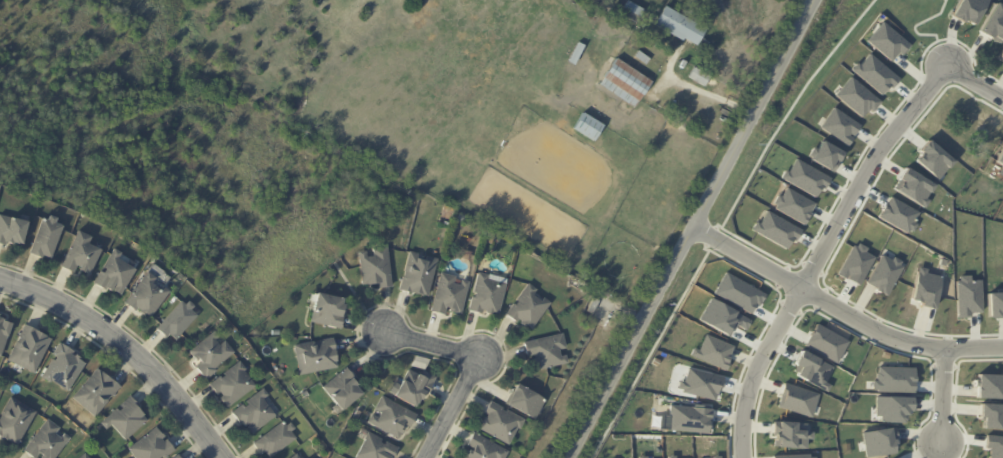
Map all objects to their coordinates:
building: (966, 10)
building: (633, 12)
road: (918, 23)
building: (992, 23)
building: (681, 29)
building: (886, 42)
building: (705, 46)
building: (577, 54)
building: (1000, 55)
building: (644, 58)
building: (874, 74)
building: (700, 78)
road: (974, 81)
building: (625, 84)
road: (711, 95)
building: (855, 97)
road: (787, 112)
building: (838, 126)
building: (589, 127)
building: (824, 155)
building: (931, 160)
building: (1000, 162)
building: (804, 177)
building: (911, 187)
building: (792, 205)
building: (897, 215)
building: (462, 219)
road: (691, 229)
building: (774, 229)
building: (14, 230)
building: (48, 238)
building: (491, 239)
road: (821, 252)
building: (84, 255)
building: (854, 264)
building: (378, 269)
building: (421, 274)
building: (882, 274)
building: (117, 275)
building: (925, 288)
building: (738, 293)
building: (150, 296)
building: (451, 296)
building: (490, 296)
building: (968, 296)
building: (995, 305)
building: (593, 306)
building: (530, 309)
road: (840, 312)
building: (328, 313)
building: (0, 316)
building: (722, 318)
building: (179, 322)
building: (4, 334)
building: (825, 343)
road: (434, 348)
road: (125, 349)
road: (651, 349)
building: (31, 350)
building: (711, 352)
building: (547, 353)
building: (211, 356)
building: (318, 357)
building: (427, 364)
building: (65, 369)
building: (810, 370)
building: (892, 379)
building: (699, 383)
building: (235, 385)
building: (987, 386)
building: (415, 387)
building: (344, 392)
building: (98, 393)
road: (942, 396)
building: (796, 399)
building: (524, 403)
building: (890, 408)
road: (454, 409)
building: (256, 414)
building: (357, 415)
building: (991, 415)
building: (393, 418)
building: (687, 418)
building: (126, 420)
building: (16, 422)
building: (503, 424)
building: (788, 434)
building: (278, 441)
building: (48, 442)
building: (877, 442)
building: (994, 446)
building: (154, 447)
building: (377, 448)
building: (485, 449)
building: (294, 456)
building: (670, 456)
building: (791, 456)
building: (84, 457)
building: (175, 457)
building: (179, 457)
building: (641, 457)
building: (714, 457)
road: (967, 457)

